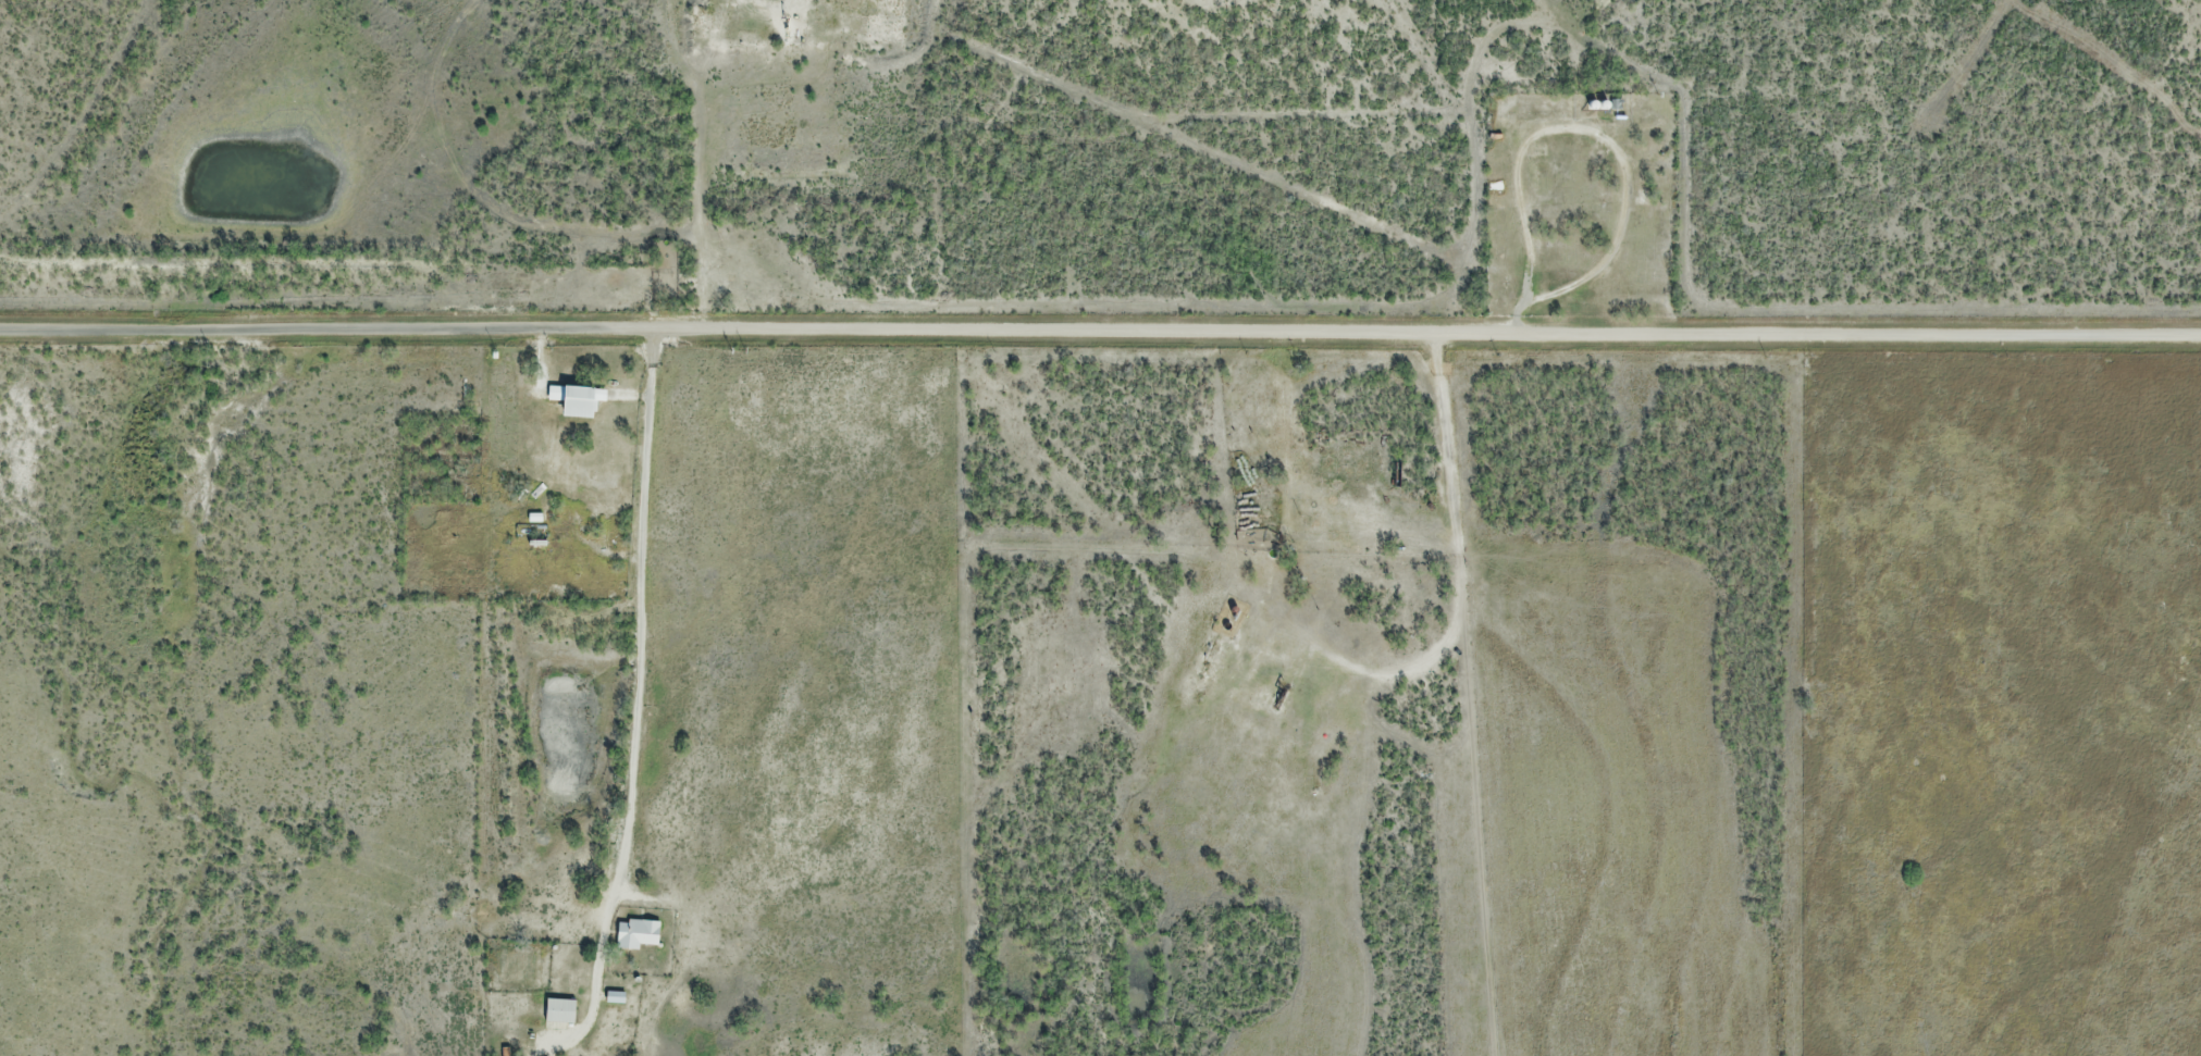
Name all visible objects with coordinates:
road: (1100, 328)
building: (572, 402)
road: (651, 621)
building: (636, 932)
building: (615, 995)
building: (561, 1010)

